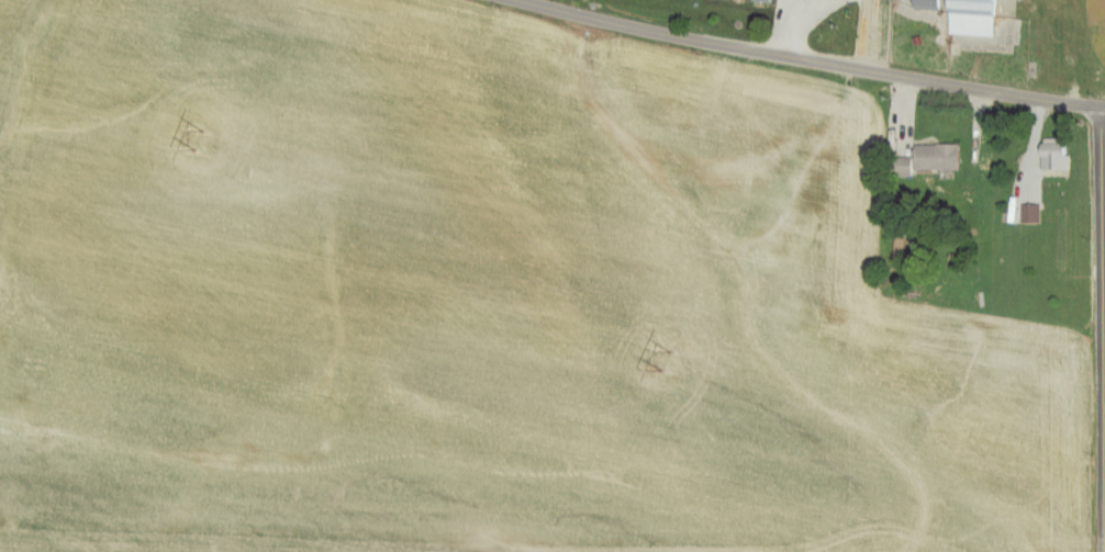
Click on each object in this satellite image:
building: (931, 4)
building: (978, 18)
road: (815, 59)
power tower: (203, 140)
building: (1059, 155)
building: (941, 158)
building: (1035, 214)
building: (897, 246)
crop: (476, 301)
road: (1103, 327)
power tower: (670, 360)

